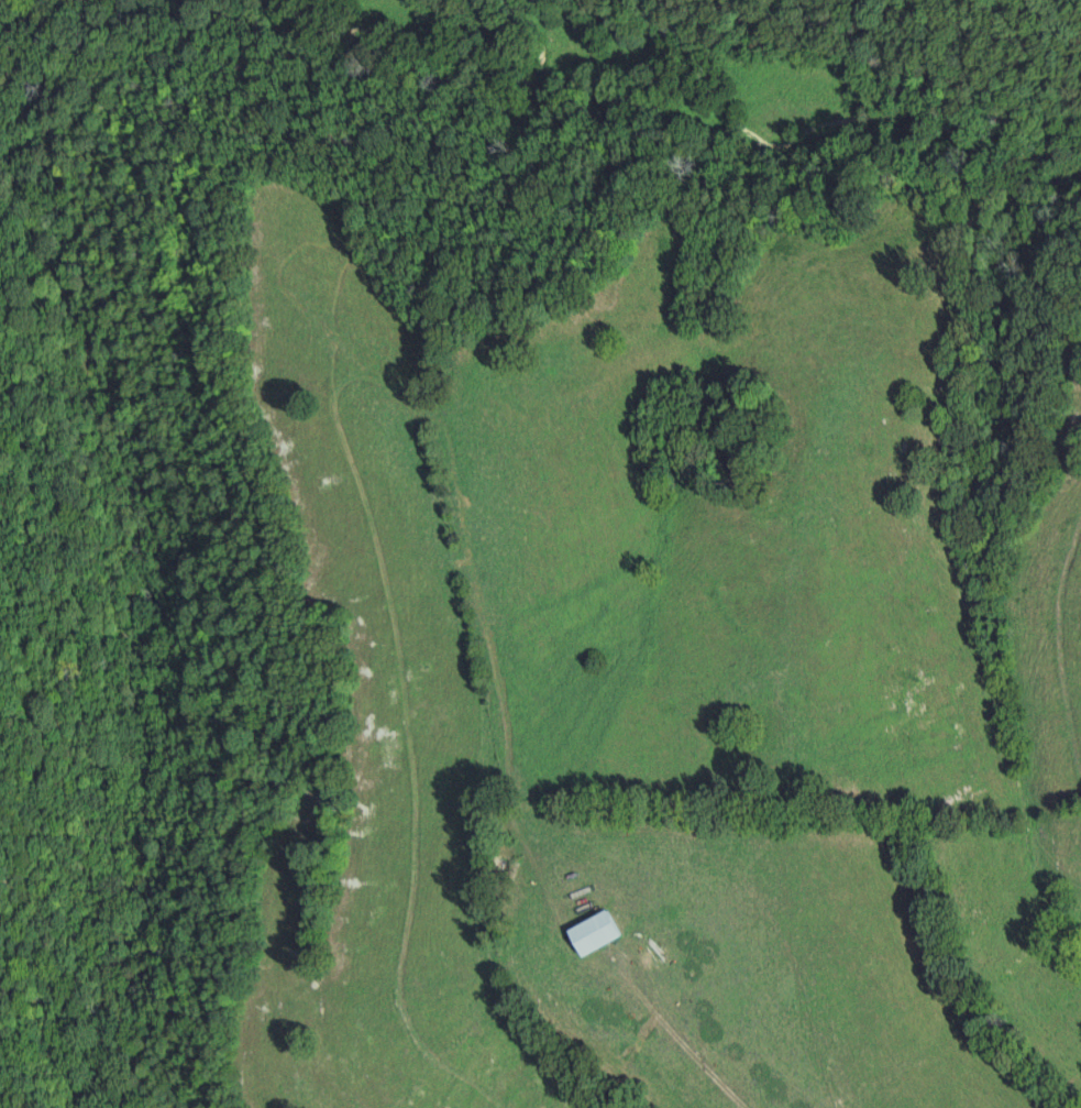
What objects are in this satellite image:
building: (600, 932)

